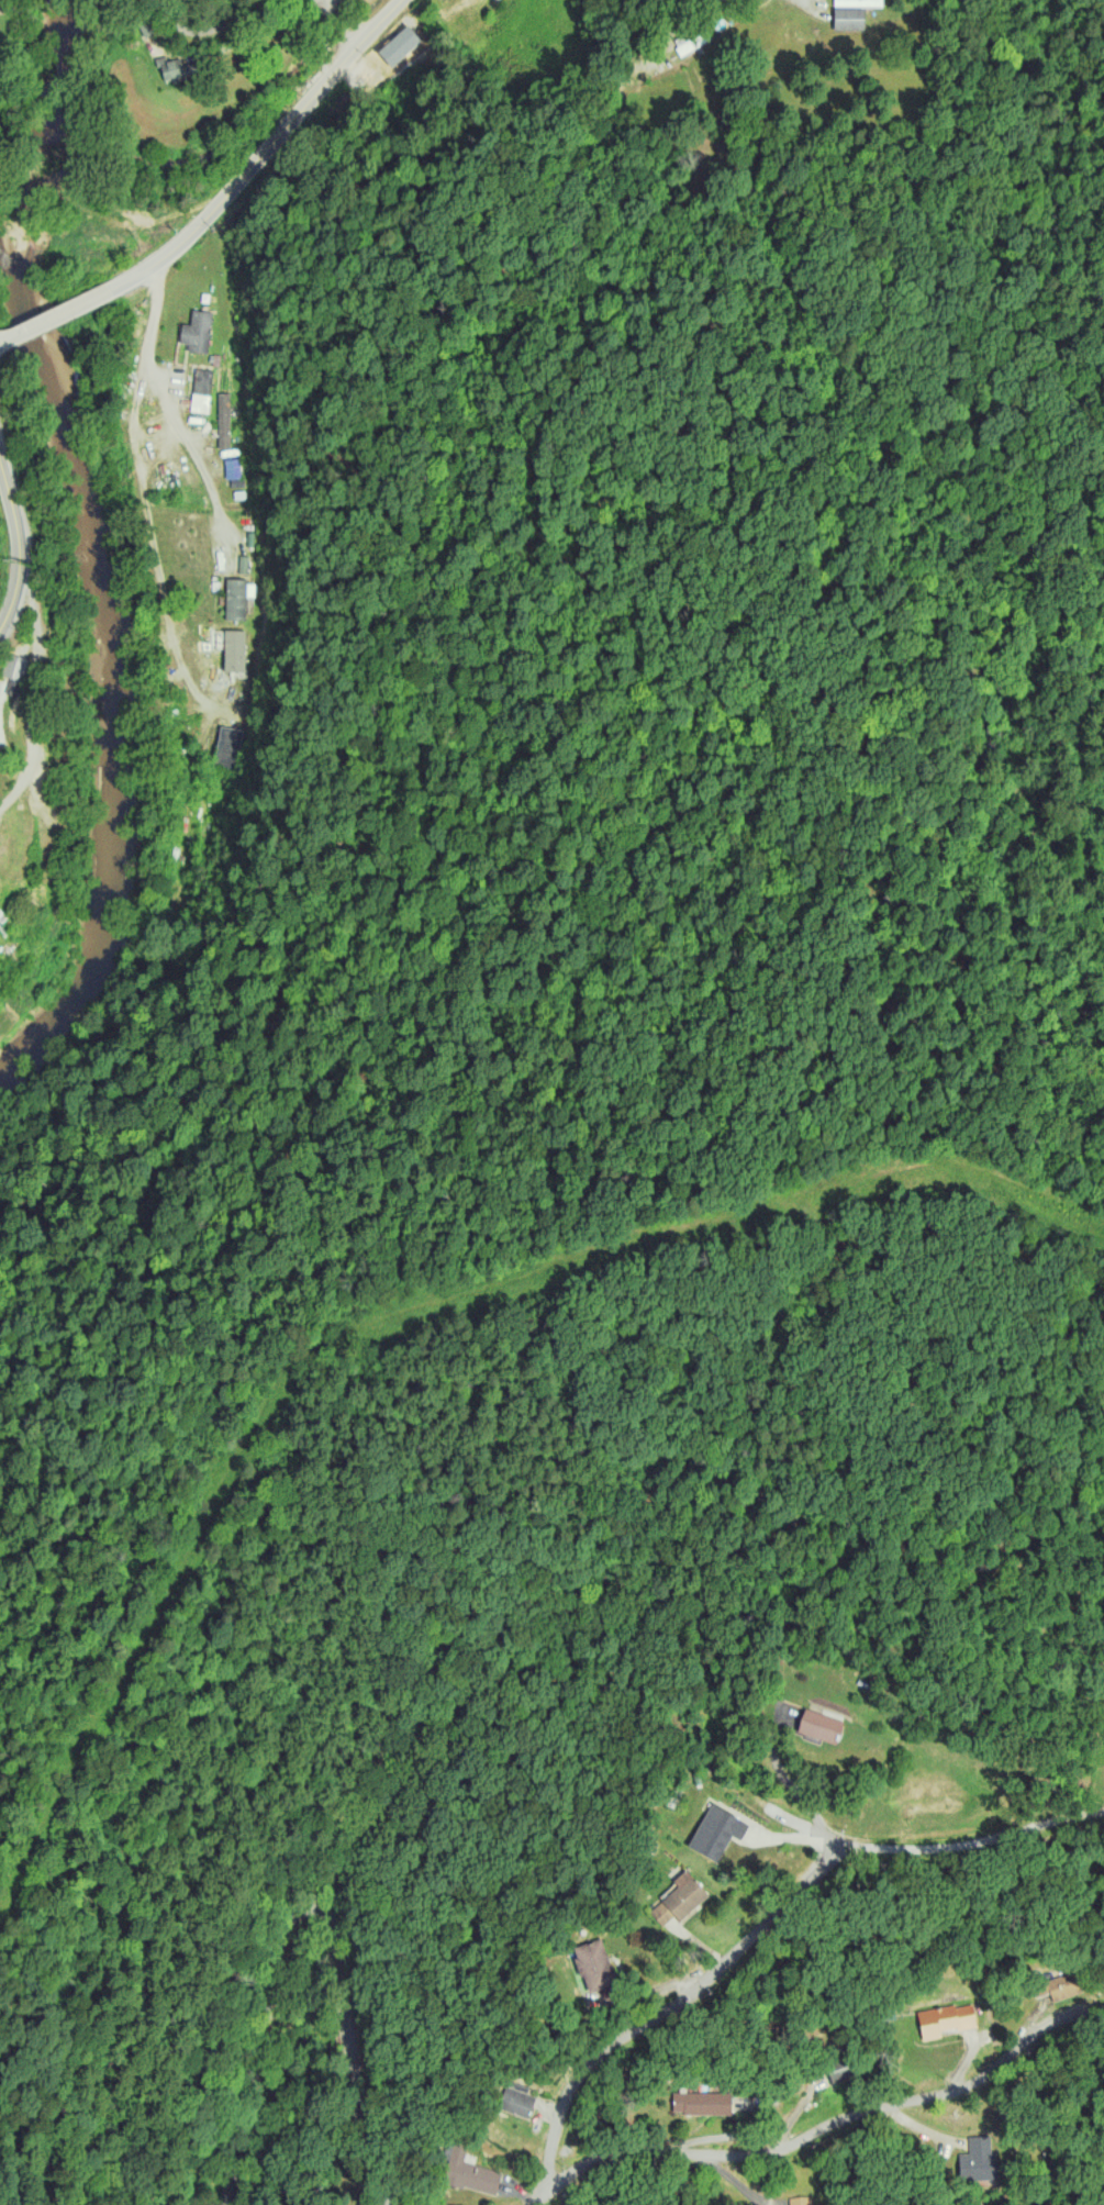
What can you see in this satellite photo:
building: (858, 2)
building: (848, 18)
road: (344, 20)
road: (210, 31)
building: (690, 38)
road: (658, 47)
building: (175, 68)
road: (261, 149)
road: (56, 313)
building: (196, 331)
building: (200, 389)
road: (167, 416)
building: (223, 419)
building: (232, 467)
road: (18, 547)
building: (235, 599)
road: (29, 689)
building: (823, 1727)
road: (784, 1801)
building: (715, 1831)
road: (975, 1844)
road: (268, 1875)
building: (681, 1902)
building: (599, 1967)
building: (1066, 1984)
road: (669, 2004)
building: (948, 2020)
building: (843, 2069)
building: (516, 2103)
building: (698, 2104)
road: (823, 2135)
building: (977, 2160)
building: (476, 2175)
building: (805, 2202)

